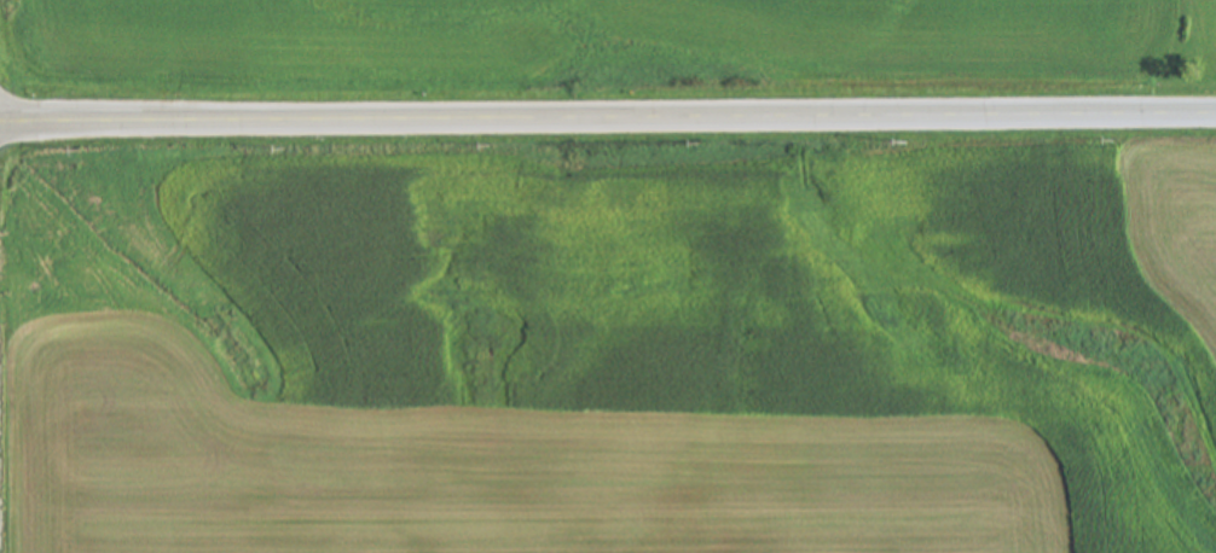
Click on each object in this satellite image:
road: (608, 118)

